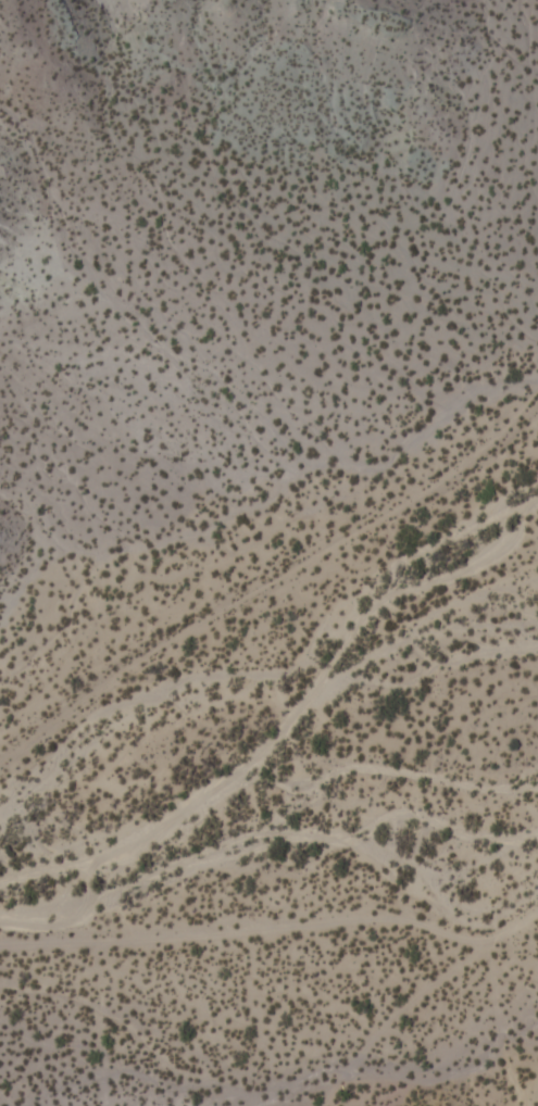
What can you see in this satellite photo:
road: (268, 946)
road: (16, 1084)

